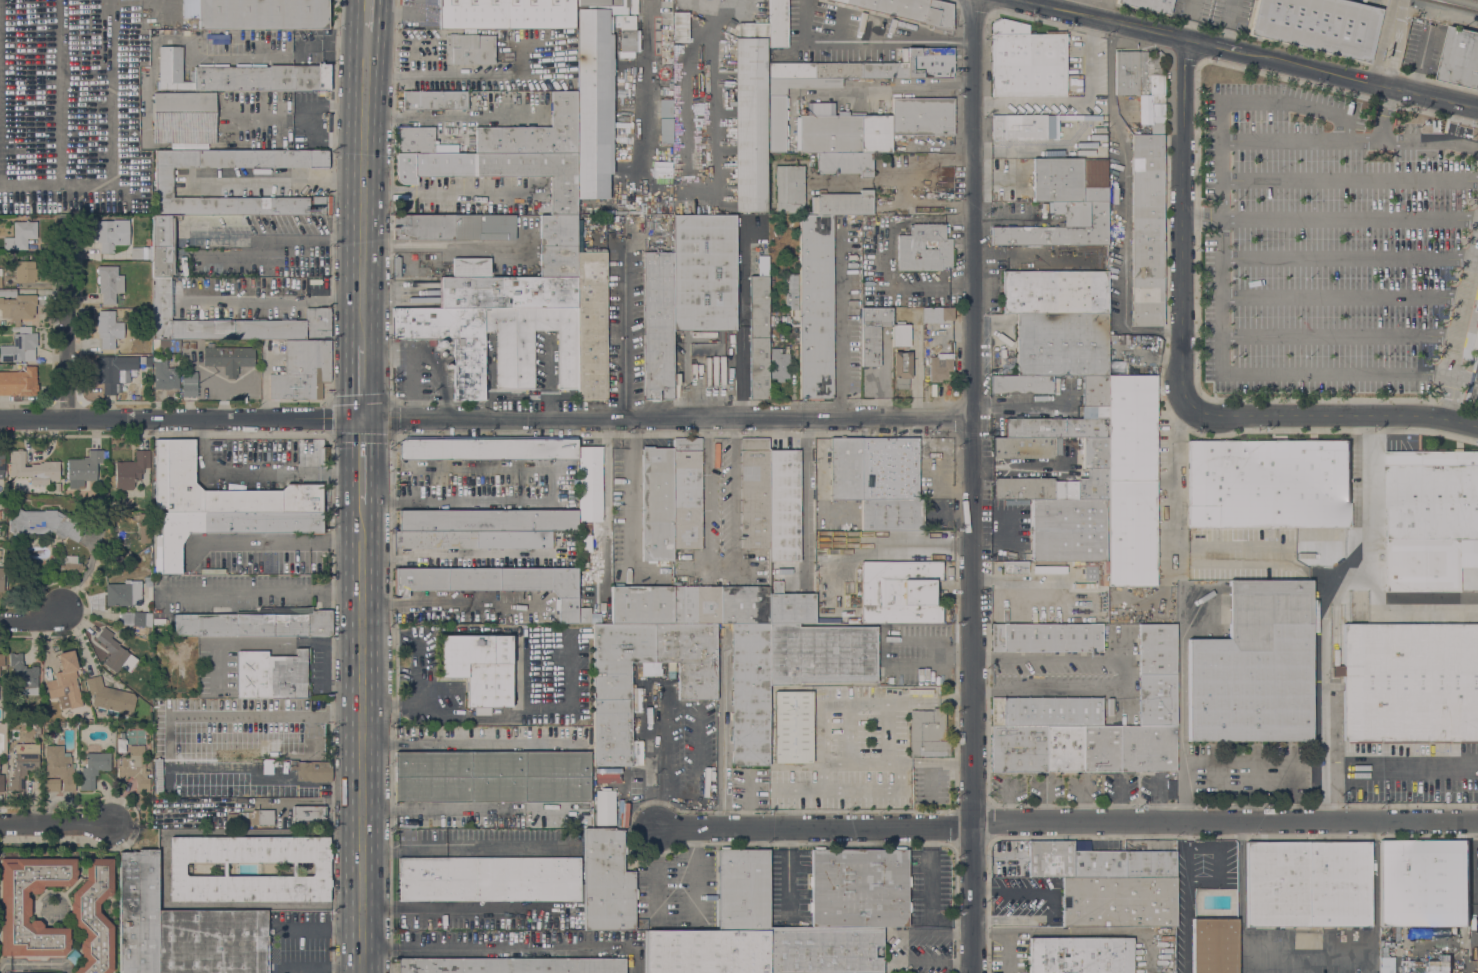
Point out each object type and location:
railway: (1457, 4)
building: (1150, 5)
building: (910, 10)
road: (399, 11)
building: (506, 13)
building: (258, 14)
road: (366, 14)
road: (1104, 20)
building: (778, 23)
building: (1318, 25)
building: (680, 27)
building: (627, 35)
building: (217, 39)
road: (870, 42)
road: (1389, 42)
road: (366, 45)
road: (1215, 47)
building: (469, 49)
building: (1460, 57)
building: (928, 61)
building: (1027, 61)
building: (837, 69)
building: (239, 75)
road: (469, 77)
road: (1430, 79)
road: (1361, 80)
road: (645, 82)
building: (1142, 82)
road: (889, 85)
building: (596, 94)
building: (435, 100)
building: (749, 114)
building: (922, 116)
road: (452, 117)
building: (185, 119)
building: (666, 120)
building: (1100, 120)
road: (61, 122)
building: (777, 123)
building: (1030, 126)
building: (841, 130)
building: (536, 132)
building: (415, 139)
road: (1282, 140)
road: (1410, 140)
building: (845, 162)
road: (1221, 163)
building: (499, 171)
road: (1001, 175)
road: (1349, 179)
road: (278, 181)
building: (164, 183)
building: (789, 189)
road: (444, 194)
road: (362, 202)
road: (1125, 202)
building: (845, 203)
building: (813, 204)
building: (1065, 204)
building: (321, 205)
road: (1201, 218)
road: (1349, 219)
road: (1182, 225)
building: (453, 226)
building: (558, 230)
building: (1147, 230)
building: (163, 231)
building: (112, 234)
building: (21, 235)
road: (271, 237)
parking lot: (1329, 238)
building: (911, 245)
road: (280, 251)
building: (140, 253)
road: (1347, 257)
building: (558, 260)
building: (162, 262)
building: (396, 266)
building: (472, 267)
building: (765, 267)
building: (25, 270)
building: (704, 273)
building: (0, 277)
building: (109, 282)
building: (507, 292)
building: (1055, 292)
road: (1343, 296)
road: (268, 299)
building: (16, 305)
building: (788, 305)
building: (816, 306)
building: (937, 314)
building: (591, 320)
building: (230, 323)
road: (66, 325)
building: (658, 325)
building: (108, 329)
road: (742, 329)
road: (1456, 329)
building: (873, 334)
building: (901, 335)
road: (1338, 335)
road: (624, 338)
building: (758, 338)
building: (1476, 341)
building: (532, 343)
building: (1062, 343)
building: (167, 345)
building: (19, 346)
building: (228, 358)
building: (145, 360)
road: (838, 361)
building: (779, 363)
building: (1006, 363)
building: (940, 366)
building: (902, 369)
building: (112, 370)
building: (302, 371)
road: (1335, 371)
building: (469, 372)
building: (165, 374)
road: (1462, 377)
road: (916, 381)
building: (18, 382)
road: (362, 382)
building: (189, 384)
building: (1022, 384)
building: (1095, 390)
road: (330, 400)
road: (1333, 416)
road: (181, 420)
road: (668, 420)
traffic signals: (363, 421)
building: (1060, 426)
building: (1026, 446)
building: (488, 448)
building: (1095, 452)
road: (363, 462)
building: (2, 463)
road: (938, 464)
building: (845, 467)
building: (83, 468)
building: (889, 468)
building: (34, 469)
building: (131, 470)
road: (260, 470)
building: (168, 475)
building: (1131, 480)
road: (1174, 480)
building: (1268, 484)
road: (974, 486)
building: (1053, 487)
road: (631, 490)
road: (719, 490)
building: (687, 493)
building: (754, 494)
building: (246, 495)
building: (589, 496)
building: (657, 503)
building: (784, 505)
building: (838, 511)
building: (1, 514)
building: (892, 514)
building: (1430, 519)
building: (487, 520)
road: (363, 521)
building: (44, 524)
building: (144, 527)
building: (227, 529)
building: (1068, 530)
building: (474, 538)
road: (266, 539)
building: (564, 539)
road: (1283, 551)
building: (0, 552)
building: (71, 564)
building: (1015, 567)
building: (1049, 569)
building: (1090, 573)
building: (2, 579)
road: (1024, 579)
building: (496, 582)
building: (900, 592)
building: (124, 593)
road: (1411, 602)
road: (452, 603)
building: (642, 604)
building: (697, 604)
building: (745, 604)
building: (790, 606)
road: (1321, 609)
building: (586, 615)
building: (136, 619)
building: (256, 622)
road: (34, 623)
building: (1046, 638)
road: (889, 640)
building: (1156, 648)
building: (116, 654)
building: (821, 654)
building: (2, 659)
building: (1255, 667)
building: (480, 668)
road: (1128, 673)
building: (23, 674)
building: (271, 675)
building: (65, 682)
building: (1410, 683)
building: (697, 685)
building: (750, 693)
building: (110, 696)
building: (1157, 699)
road: (852, 701)
road: (1181, 710)
building: (1046, 711)
building: (793, 727)
road: (849, 733)
road: (887, 733)
building: (928, 733)
building: (121, 745)
building: (1148, 746)
building: (1064, 747)
building: (1101, 747)
building: (296, 748)
building: (1019, 748)
road: (363, 756)
road: (661, 757)
building: (23, 763)
road: (896, 765)
road: (1233, 766)
building: (136, 767)
building: (93, 769)
building: (607, 769)
road: (1400, 769)
building: (59, 770)
building: (311, 770)
building: (492, 777)
building: (2, 783)
road: (932, 783)
road: (849, 792)
building: (605, 806)
road: (469, 809)
building: (307, 816)
building: (249, 818)
road: (1226, 822)
road: (53, 825)
road: (816, 828)
building: (1080, 844)
building: (1048, 859)
building: (1099, 864)
building: (1150, 864)
building: (321, 869)
road: (163, 870)
building: (489, 879)
building: (607, 881)
building: (1308, 883)
building: (1424, 883)
building: (859, 887)
building: (743, 890)
road: (1187, 897)
building: (1118, 901)
road: (1051, 903)
building: (15, 907)
road: (453, 908)
building: (138, 911)
building: (94, 916)
road: (322, 928)
building: (212, 942)
building: (1214, 945)
road: (508, 949)
building: (824, 949)
building: (707, 952)
road: (1306, 954)
building: (1081, 955)
building: (512, 965)
road: (321, 968)
building: (31, 972)

